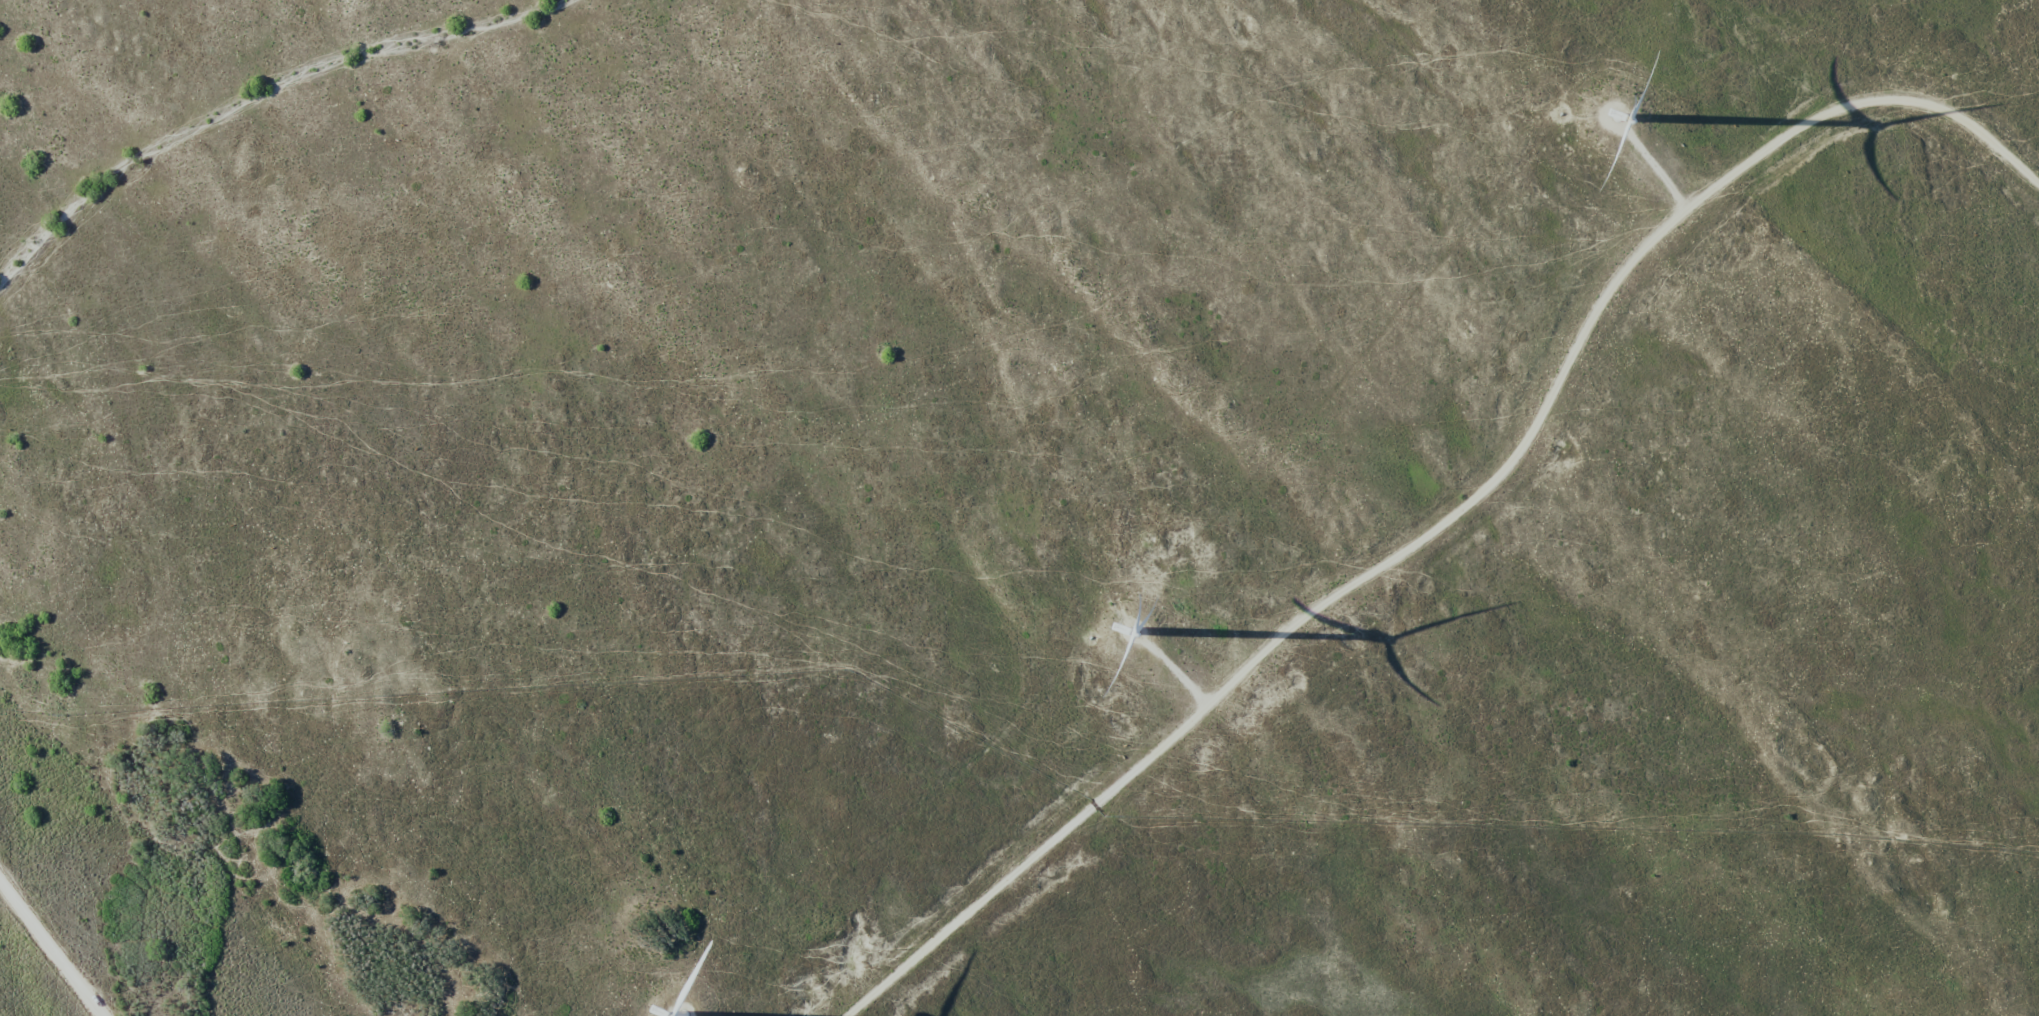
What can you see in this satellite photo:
wind turbine: (1625, 124)
wind turbine: (1146, 636)
road: (57, 939)

